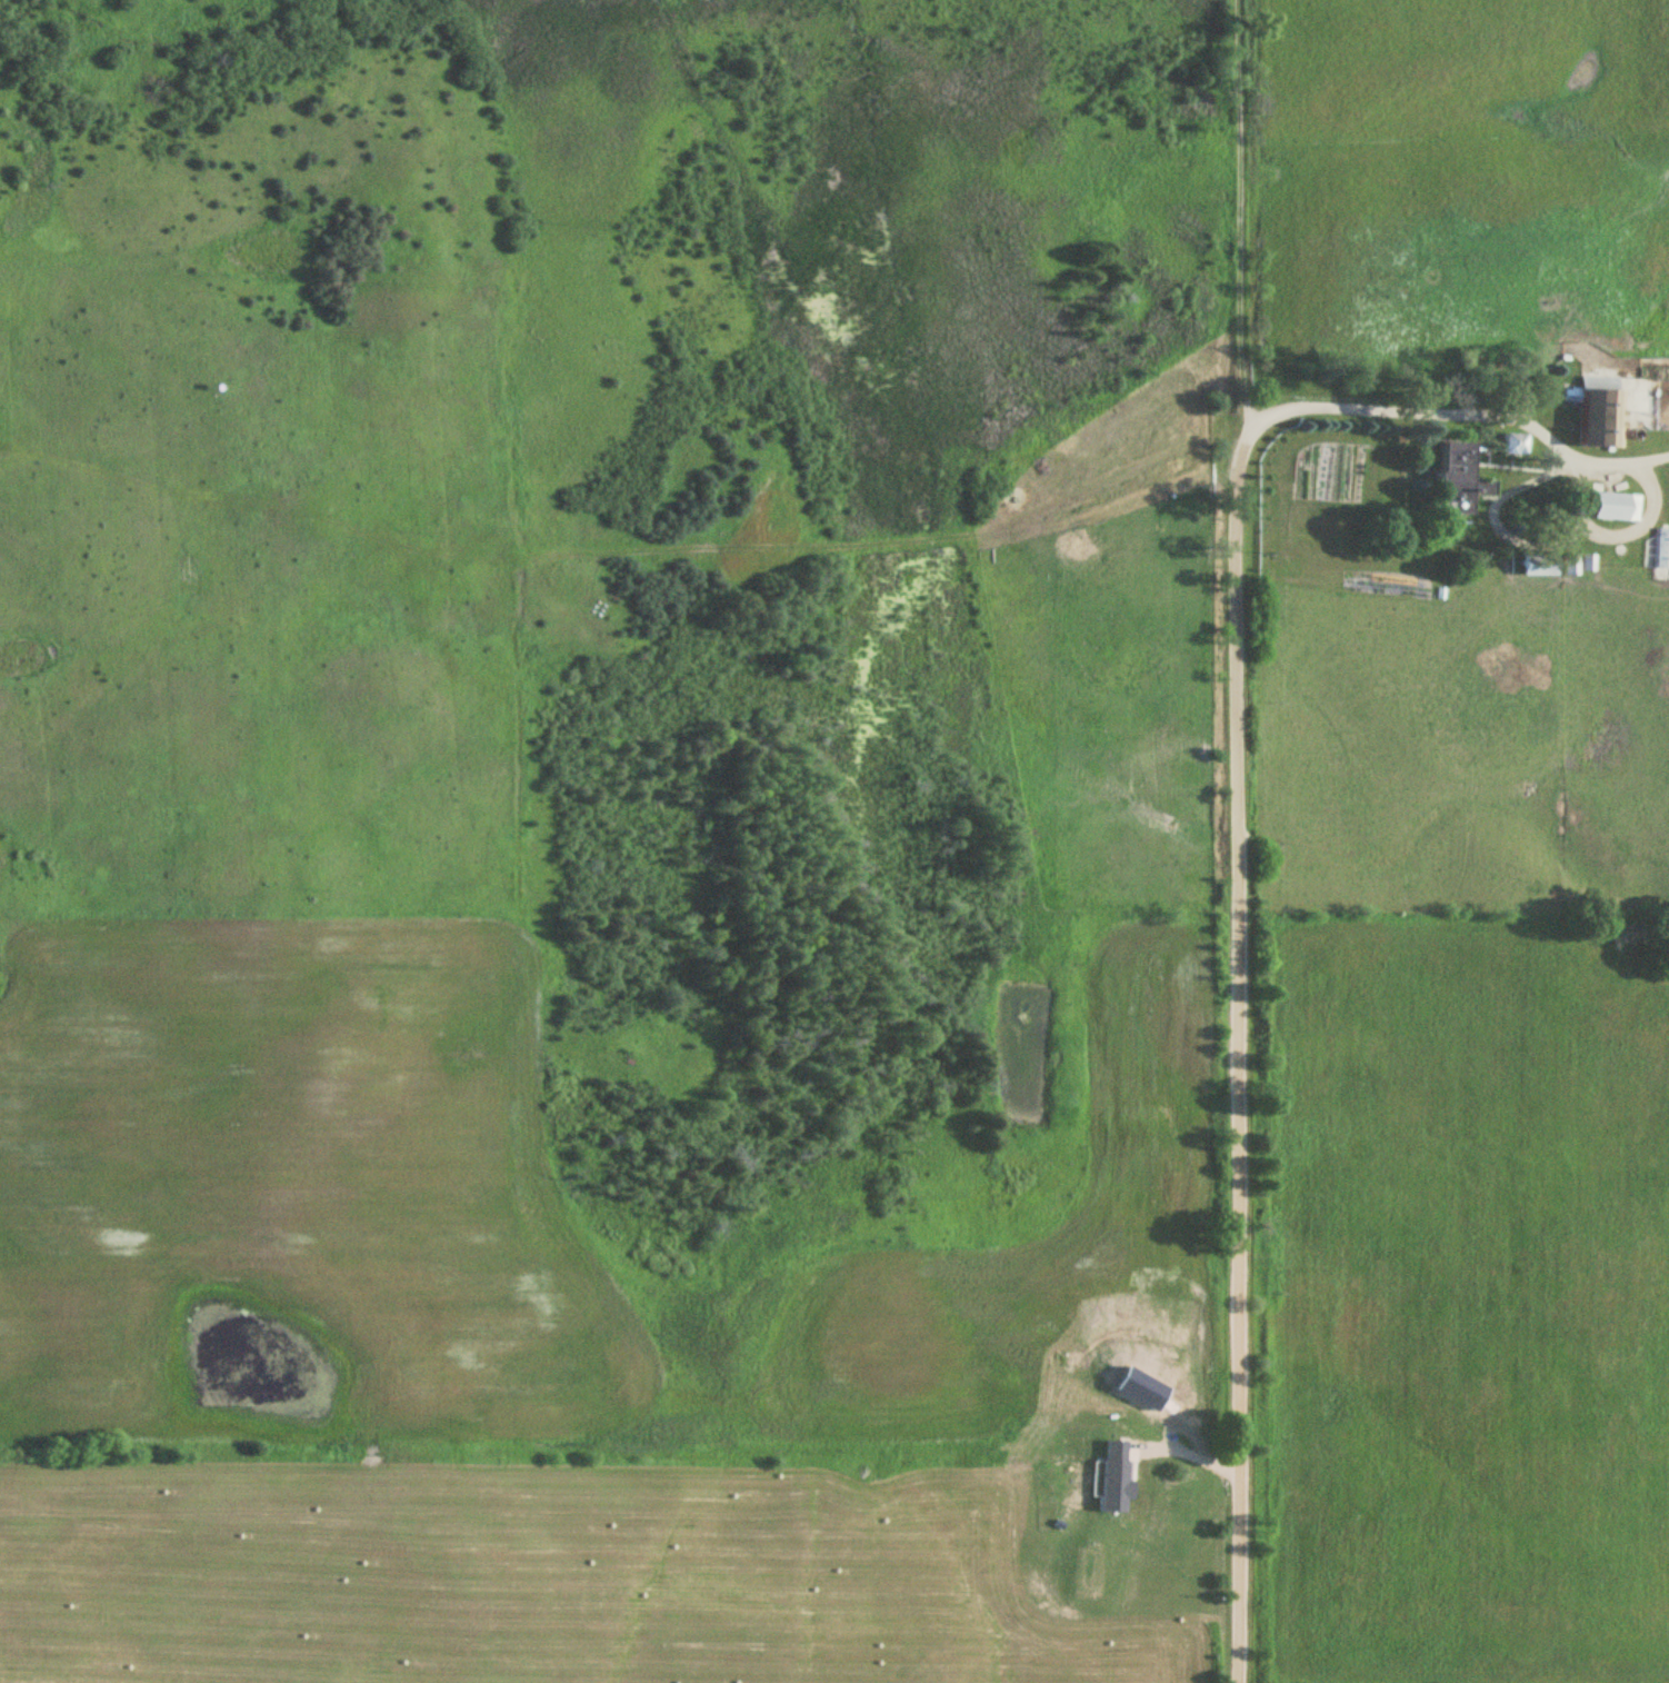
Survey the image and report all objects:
building: (1600, 415)
building: (1453, 478)
building: (1483, 487)
building: (1615, 507)
building: (1661, 549)
building: (1570, 565)
road: (1237, 841)

